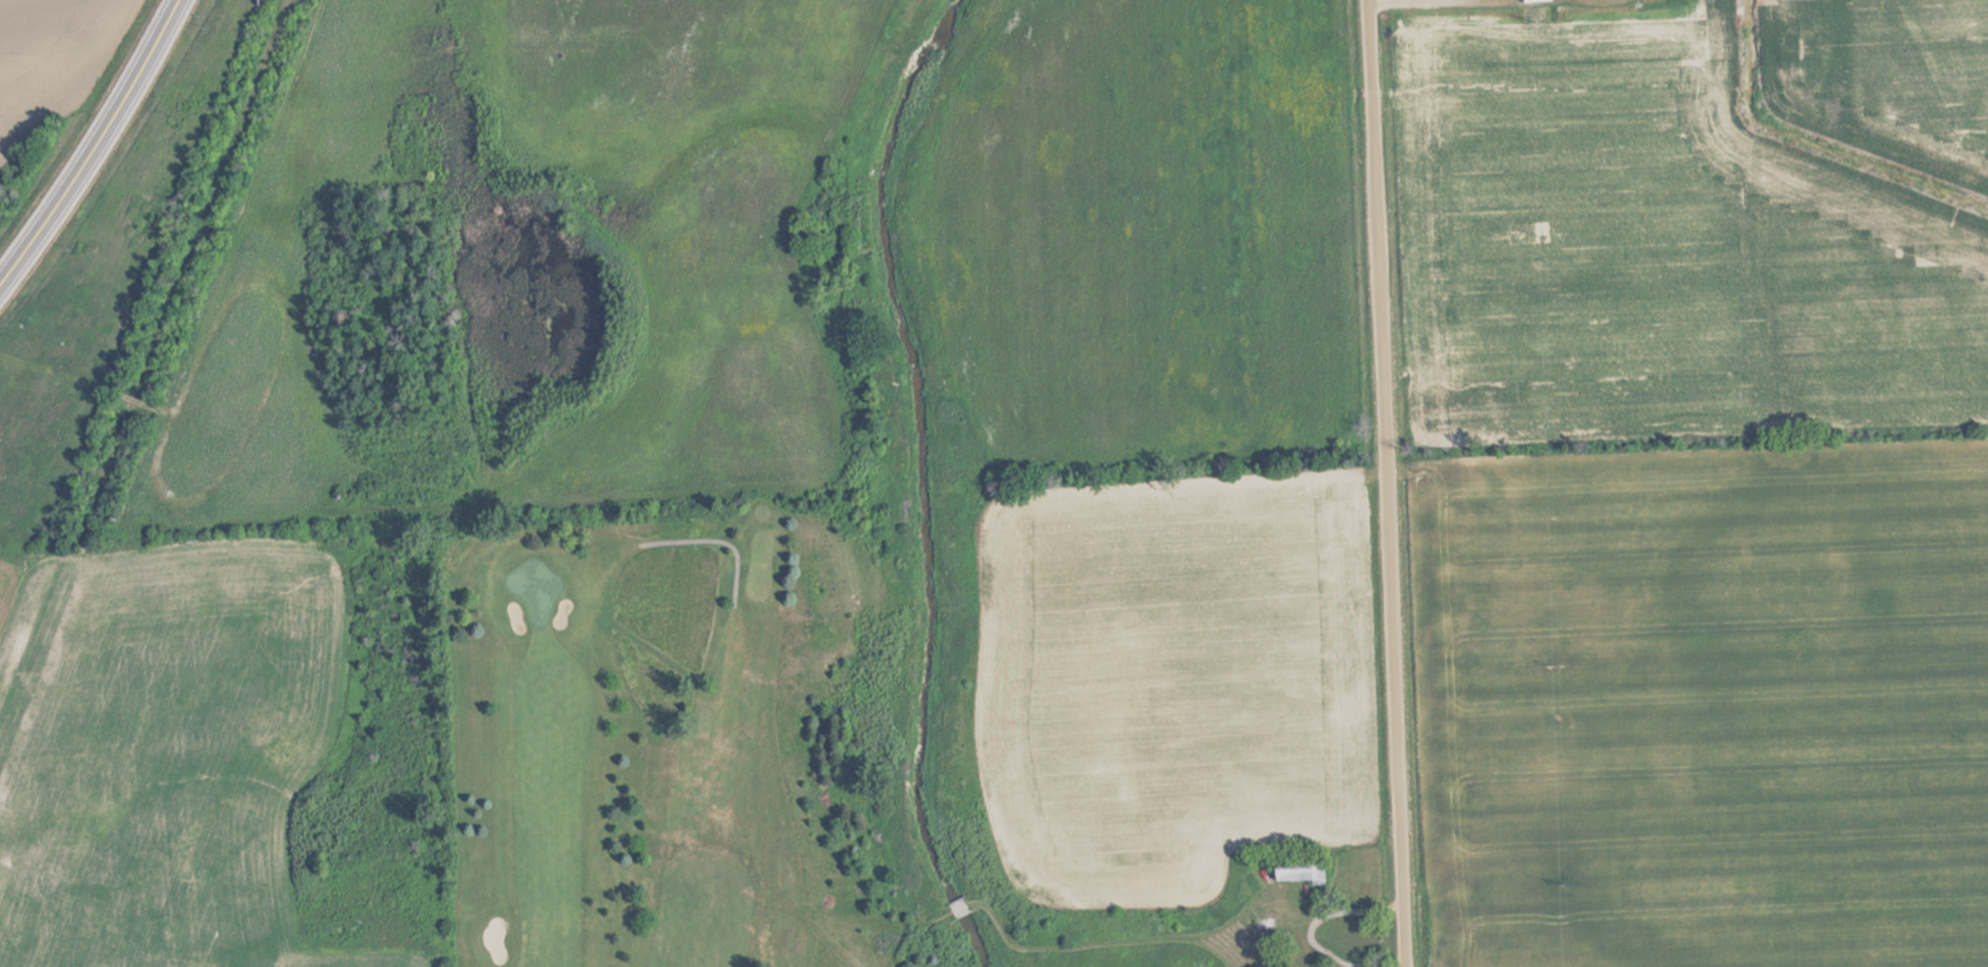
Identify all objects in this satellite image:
building: (1532, 1)
building: (1537, 15)
crop: (48, 62)
road: (92, 143)
crop: (449, 398)
road: (1389, 483)
crop: (1698, 483)
park: (664, 747)
building: (1300, 869)

